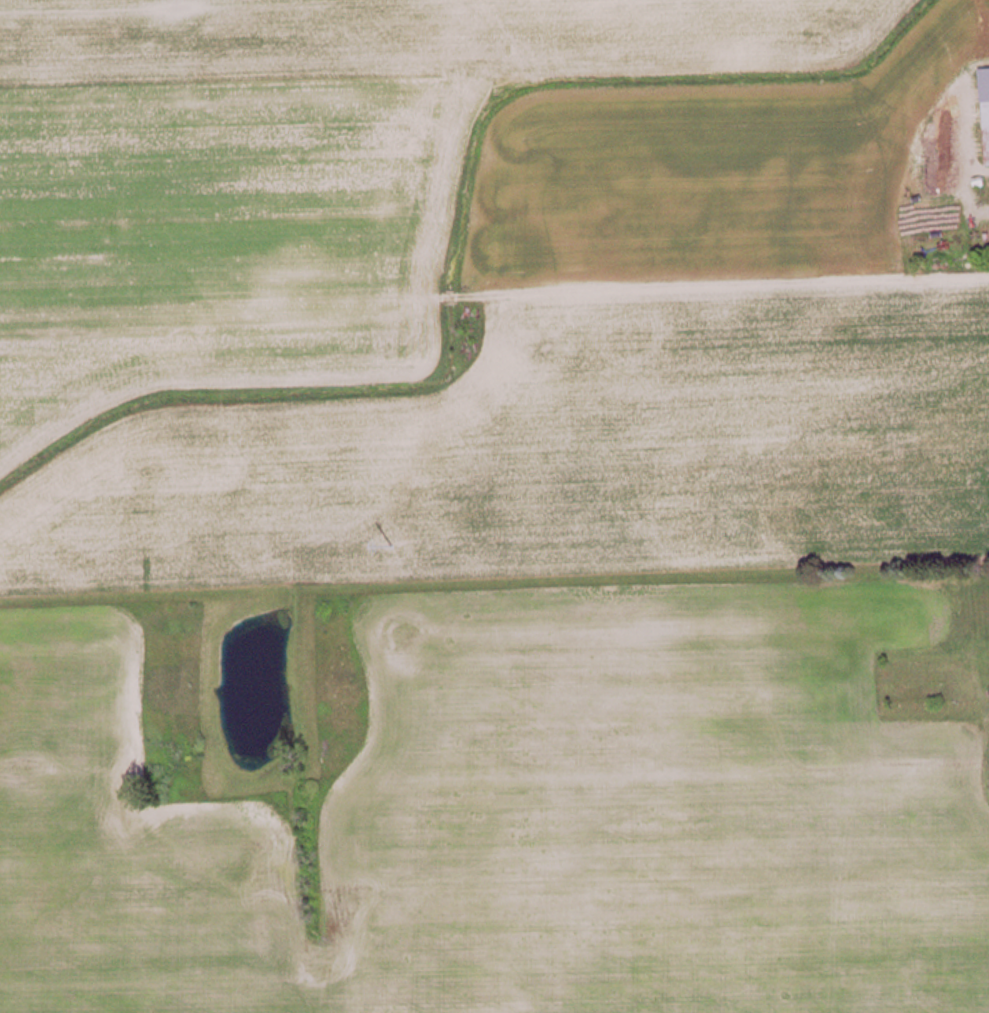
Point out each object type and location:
building: (987, 133)
power tower: (393, 549)

